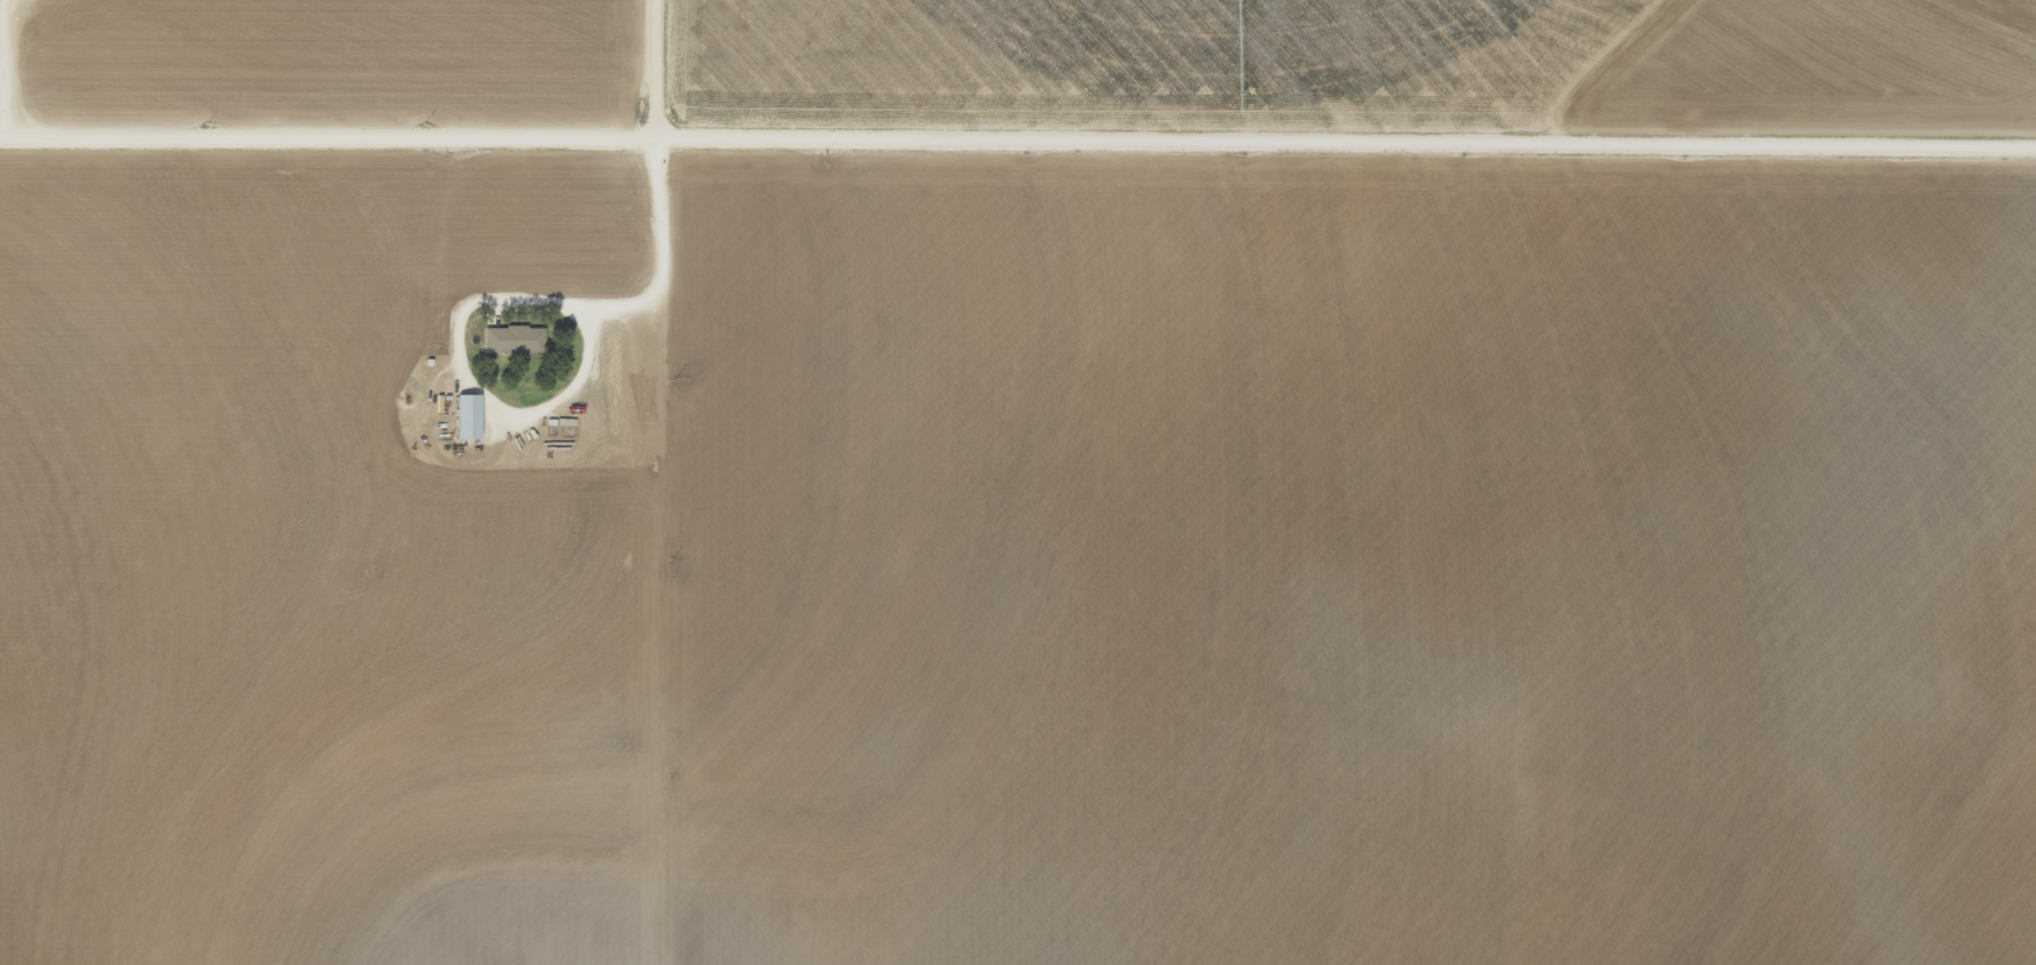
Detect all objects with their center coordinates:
road: (674, 69)
road: (1018, 140)
road: (657, 295)
building: (514, 339)

